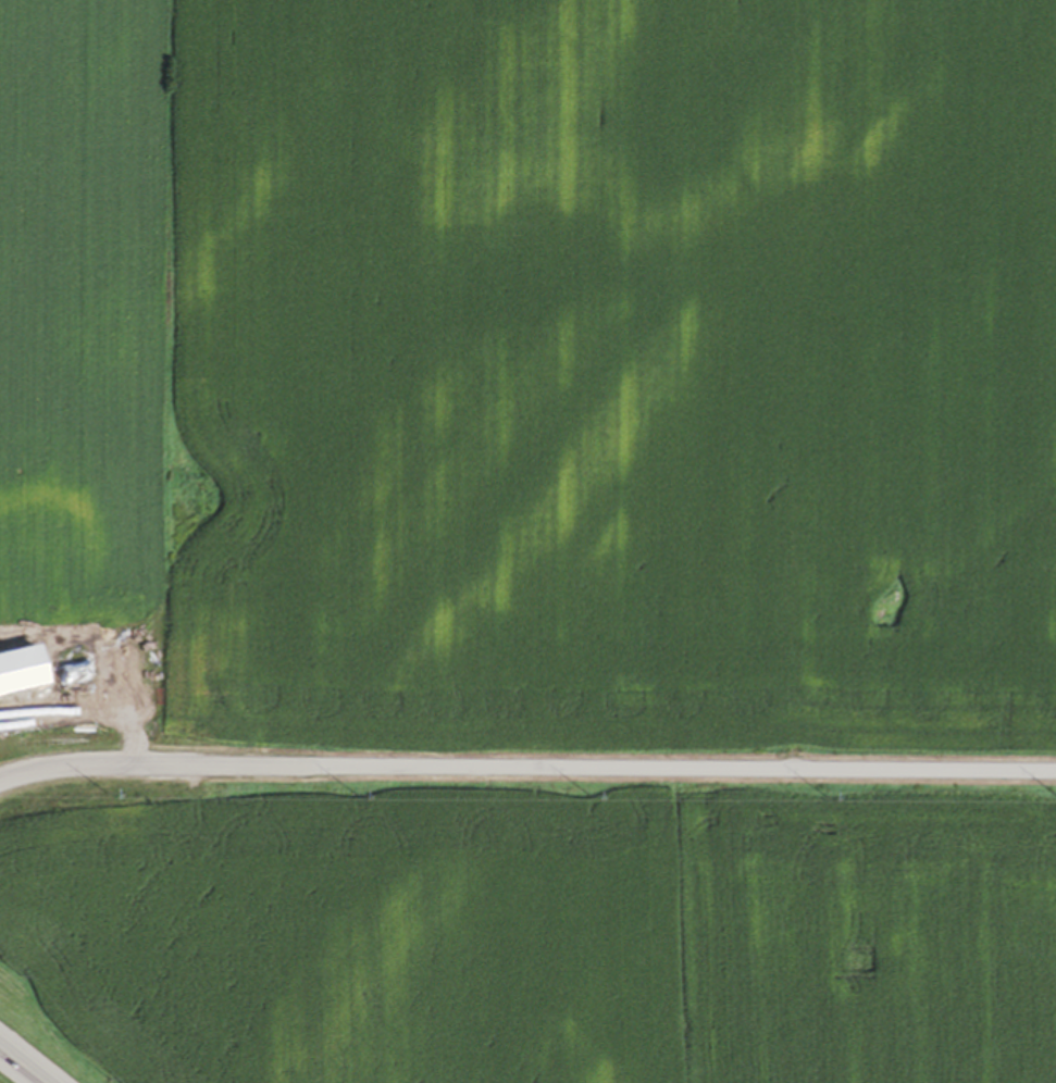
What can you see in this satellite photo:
road: (526, 767)
road: (21, 1067)

